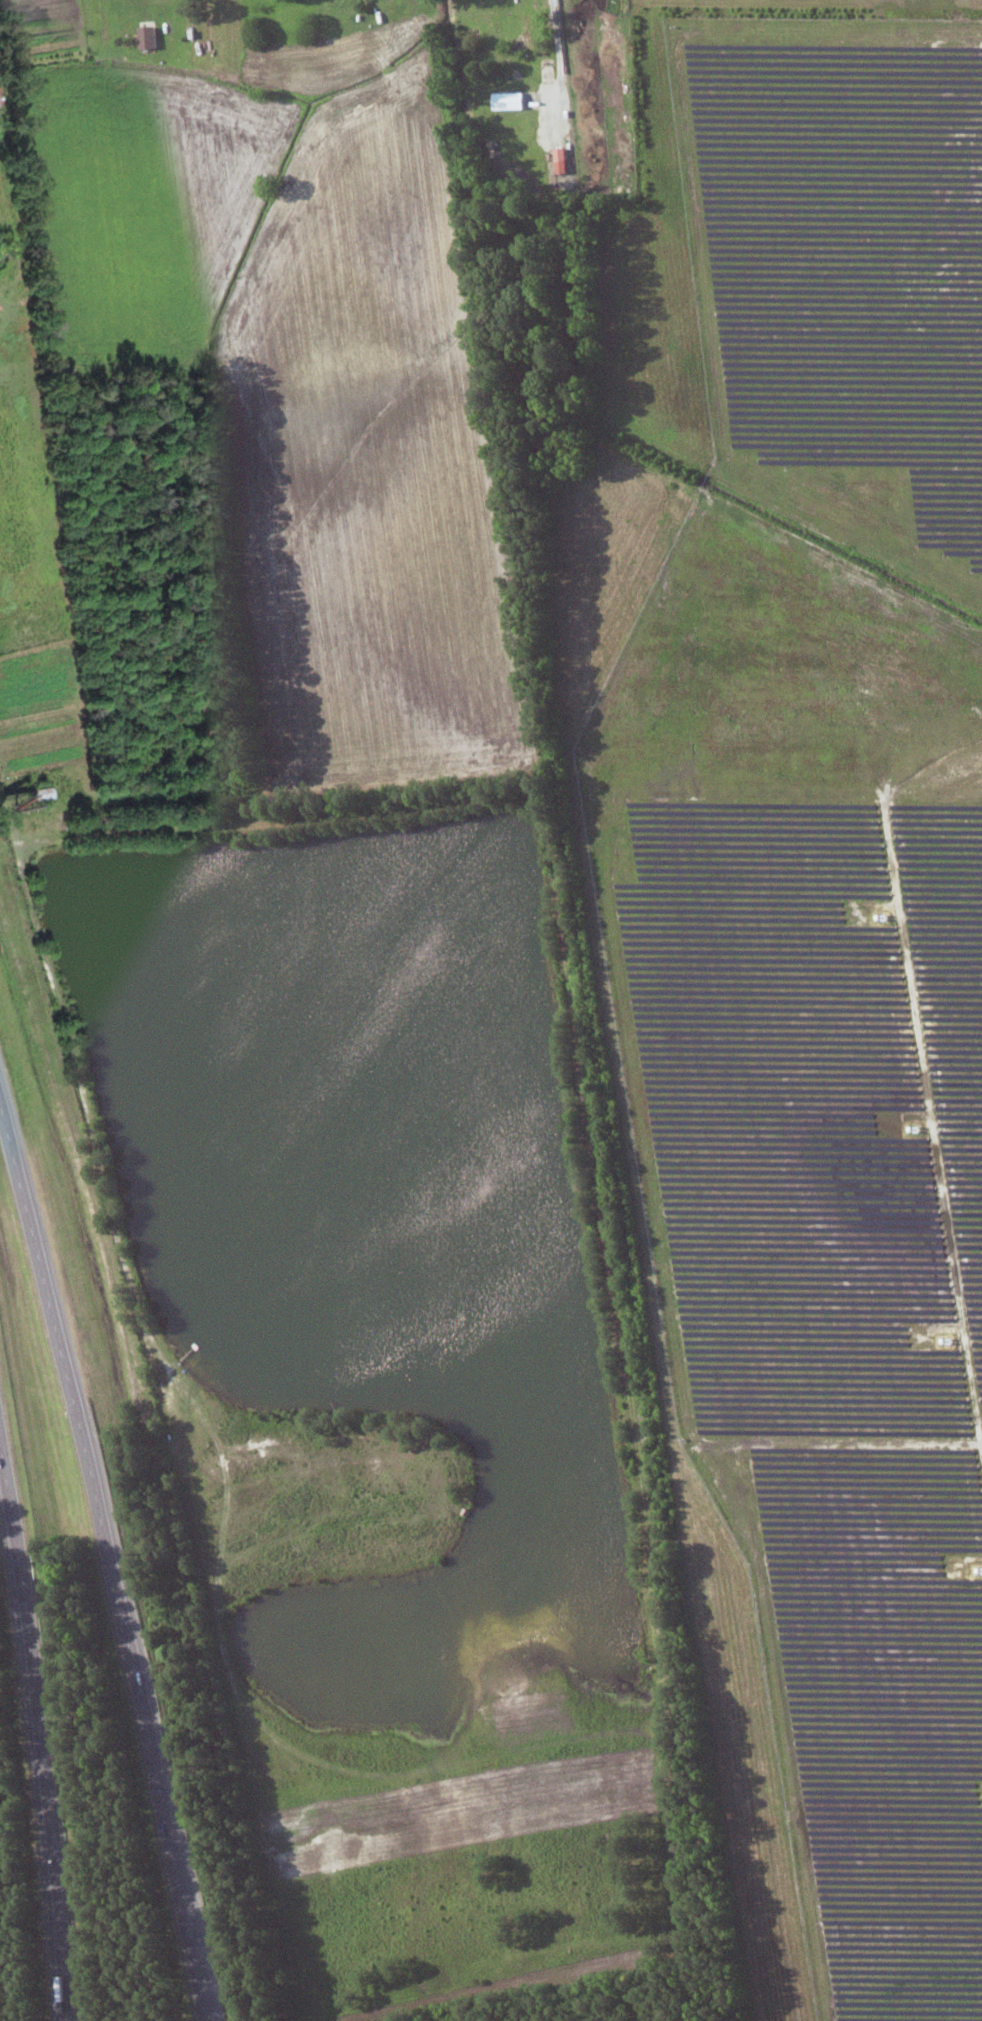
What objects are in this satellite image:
building: (148, 36)
building: (509, 101)
building: (561, 160)
solar farm: (825, 948)
road: (112, 1555)
road: (46, 1706)

